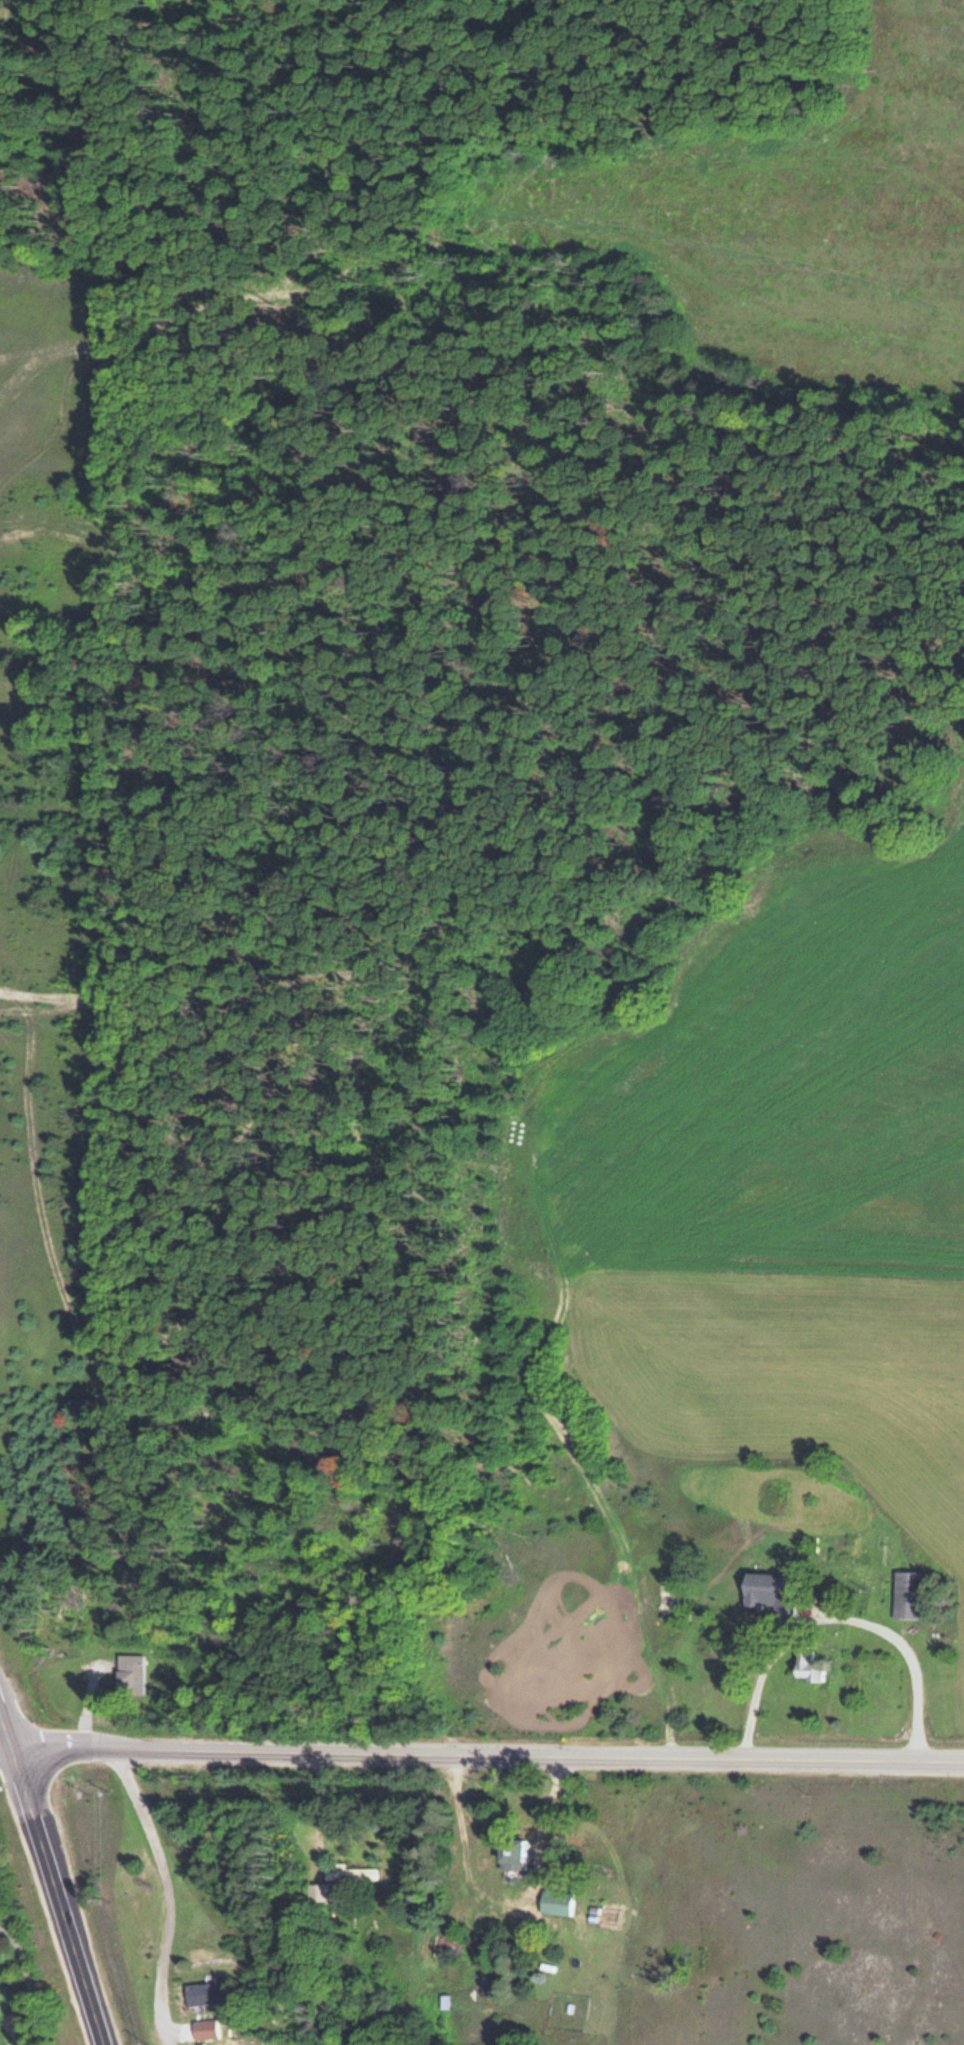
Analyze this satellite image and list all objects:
building: (767, 1591)
building: (908, 1594)
building: (807, 1667)
building: (129, 1675)
road: (9, 1714)
road: (482, 1754)
building: (511, 1852)
building: (350, 1871)
building: (316, 1891)
road: (60, 1896)
building: (556, 1899)
building: (203, 1991)
park: (25, 1996)
building: (443, 2000)
building: (204, 2028)

